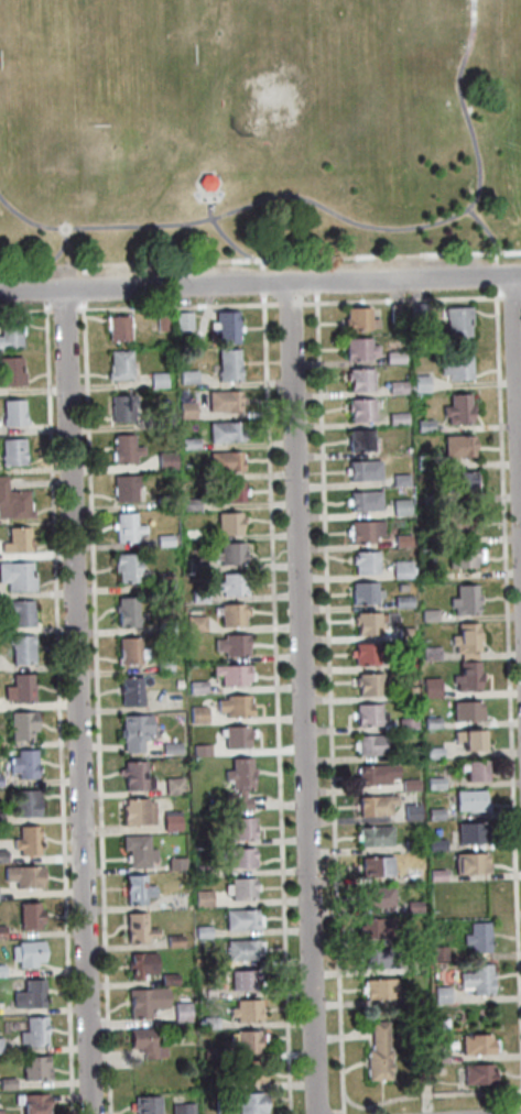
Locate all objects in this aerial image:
park: (299, 63)
park: (253, 129)
building: (206, 185)
road: (336, 212)
road: (219, 233)
road: (488, 234)
road: (56, 253)
road: (260, 262)
road: (508, 270)
road: (493, 282)
road: (260, 283)
road: (314, 287)
road: (260, 288)
road: (44, 290)
road: (511, 297)
road: (401, 301)
road: (287, 304)
road: (174, 306)
road: (24, 310)
road: (63, 310)
building: (416, 312)
building: (394, 313)
building: (357, 318)
building: (182, 320)
building: (456, 321)
building: (161, 323)
building: (225, 327)
building: (117, 328)
building: (9, 334)
building: (357, 349)
building: (392, 357)
building: (118, 364)
building: (227, 364)
building: (456, 367)
building: (9, 371)
building: (186, 376)
building: (358, 379)
building: (156, 380)
building: (419, 383)
road: (517, 385)
building: (395, 387)
building: (222, 401)
building: (120, 408)
building: (185, 409)
building: (359, 409)
building: (456, 409)
building: (11, 412)
building: (161, 418)
building: (395, 418)
building: (423, 425)
building: (219, 432)
building: (359, 440)
building: (187, 444)
building: (457, 446)
building: (123, 448)
building: (11, 451)
building: (164, 460)
building: (222, 461)
building: (423, 462)
building: (361, 470)
building: (399, 479)
building: (458, 481)
building: (123, 488)
building: (225, 492)
building: (428, 498)
building: (163, 501)
building: (362, 501)
building: (12, 503)
building: (188, 504)
building: (399, 507)
building: (460, 522)
building: (227, 523)
building: (124, 527)
building: (363, 531)
building: (193, 534)
building: (427, 538)
building: (14, 540)
building: (162, 540)
building: (401, 540)
building: (229, 554)
building: (460, 557)
building: (363, 563)
building: (194, 564)
building: (127, 568)
building: (400, 569)
building: (430, 575)
building: (15, 577)
building: (161, 578)
building: (229, 583)
building: (361, 593)
building: (197, 596)
building: (464, 599)
building: (401, 601)
building: (18, 612)
building: (126, 612)
building: (230, 615)
building: (427, 615)
building: (366, 623)
building: (194, 624)
building: (163, 626)
building: (403, 634)
building: (465, 638)
building: (230, 645)
building: (21, 649)
building: (129, 652)
building: (430, 653)
building: (363, 654)
building: (466, 656)
building: (403, 664)
building: (162, 666)
building: (230, 674)
building: (465, 677)
building: (368, 685)
building: (195, 686)
building: (19, 688)
building: (129, 691)
building: (404, 692)
road: (508, 697)
road: (301, 698)
road: (76, 702)
road: (274, 703)
road: (327, 703)
building: (232, 706)
road: (58, 707)
road: (95, 711)
building: (465, 711)
building: (197, 714)
building: (367, 716)
building: (430, 722)
building: (405, 723)
building: (22, 725)
building: (132, 732)
building: (234, 736)
building: (468, 739)
building: (370, 745)
building: (169, 749)
building: (199, 750)
building: (432, 753)
building: (23, 764)
building: (470, 771)
building: (375, 774)
building: (134, 776)
building: (238, 782)
building: (433, 783)
building: (408, 785)
building: (171, 786)
building: (467, 800)
building: (24, 802)
building: (375, 805)
building: (135, 812)
building: (410, 812)
building: (433, 813)
building: (0, 818)
building: (170, 823)
building: (240, 829)
building: (468, 832)
building: (373, 836)
building: (25, 840)
building: (434, 844)
building: (412, 845)
building: (137, 851)
building: (2, 855)
building: (236, 858)
building: (468, 863)
building: (174, 864)
building: (375, 866)
building: (202, 871)
building: (434, 875)
building: (23, 876)
building: (238, 888)
building: (135, 889)
building: (376, 897)
building: (202, 898)
building: (412, 906)
building: (30, 916)
building: (239, 919)
building: (135, 928)
building: (377, 928)
building: (1, 931)
building: (202, 932)
building: (476, 938)
building: (173, 941)
building: (240, 950)
building: (26, 953)
building: (438, 953)
building: (377, 958)
building: (140, 964)
building: (420, 969)
building: (1, 970)
building: (475, 979)
building: (167, 980)
building: (243, 980)
building: (379, 989)
building: (209, 992)
building: (29, 994)
building: (439, 994)
building: (144, 1002)
building: (245, 1011)
building: (181, 1012)
building: (207, 1023)
building: (33, 1033)
building: (144, 1042)
building: (246, 1042)
building: (475, 1045)
building: (0, 1048)
building: (209, 1052)
building: (377, 1052)
building: (436, 1057)
building: (34, 1068)
building: (248, 1073)
building: (476, 1074)
building: (7, 1083)
building: (213, 1084)
road: (427, 1095)
building: (31, 1103)
building: (241, 1104)
building: (144, 1105)
building: (181, 1108)
road: (520, 1110)
road: (336, 1111)
building: (0, 1112)
road: (327, 1113)

